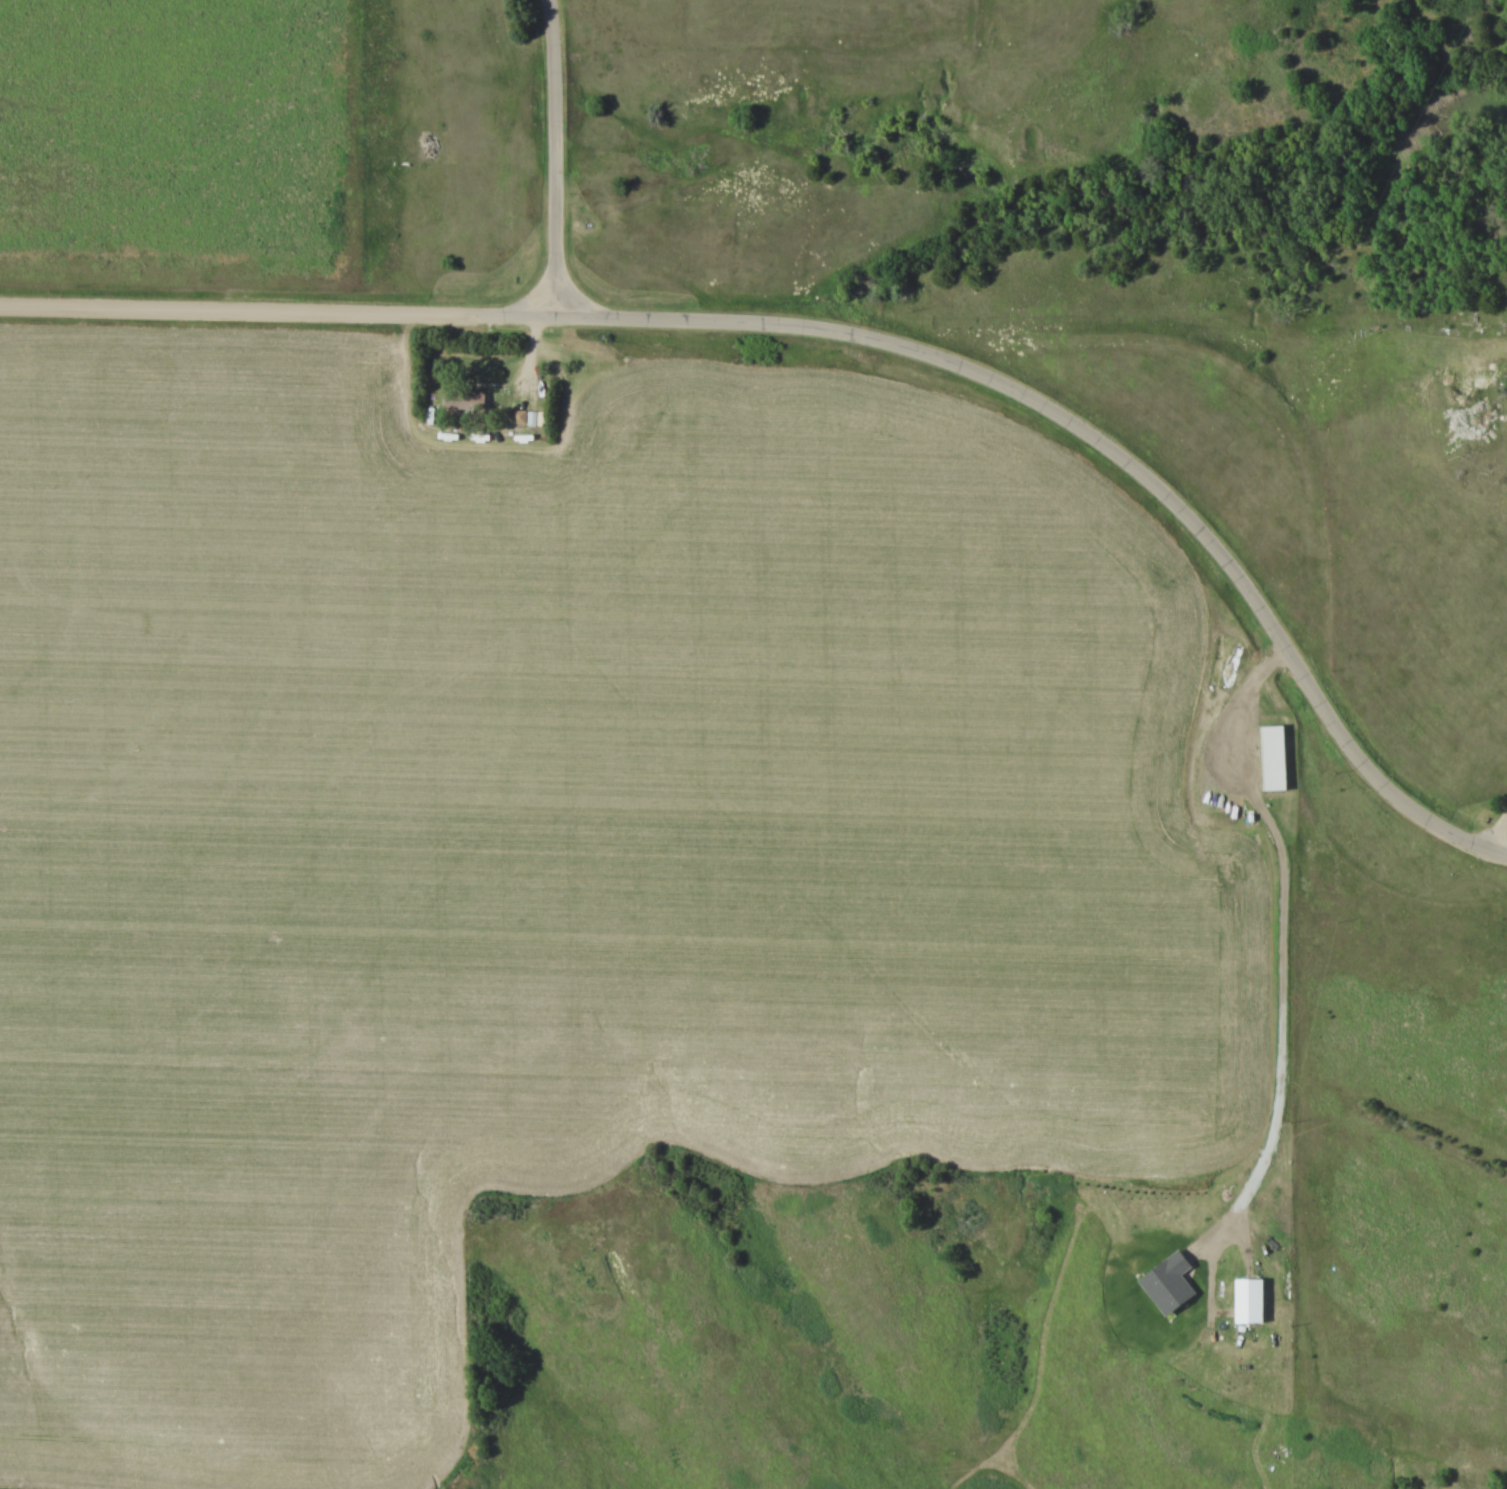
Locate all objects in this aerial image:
road: (554, 160)
road: (277, 312)
building: (464, 401)
road: (1109, 453)
park: (1392, 757)
road: (1506, 819)
road: (1496, 835)

